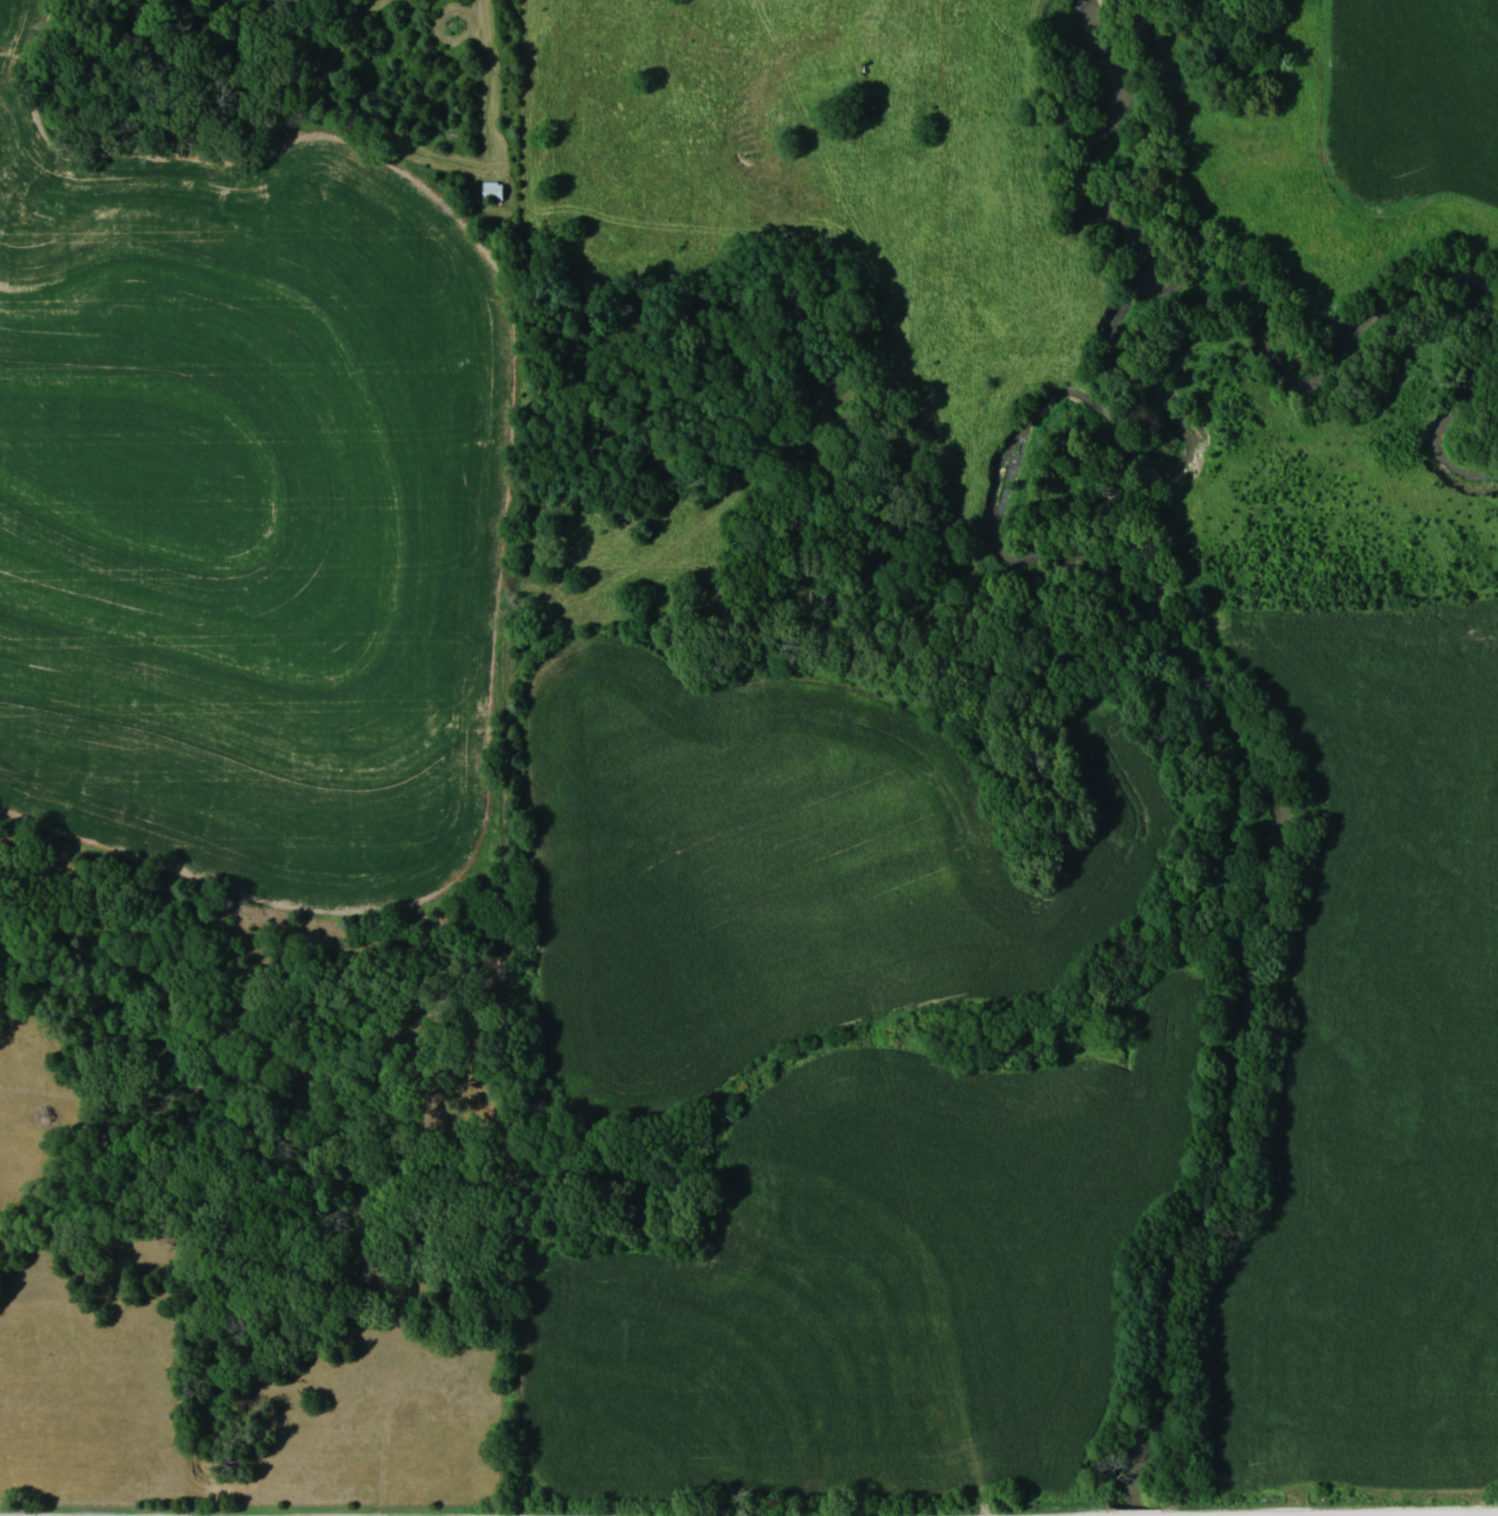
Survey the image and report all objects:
building: (495, 190)
river: (1106, 577)

